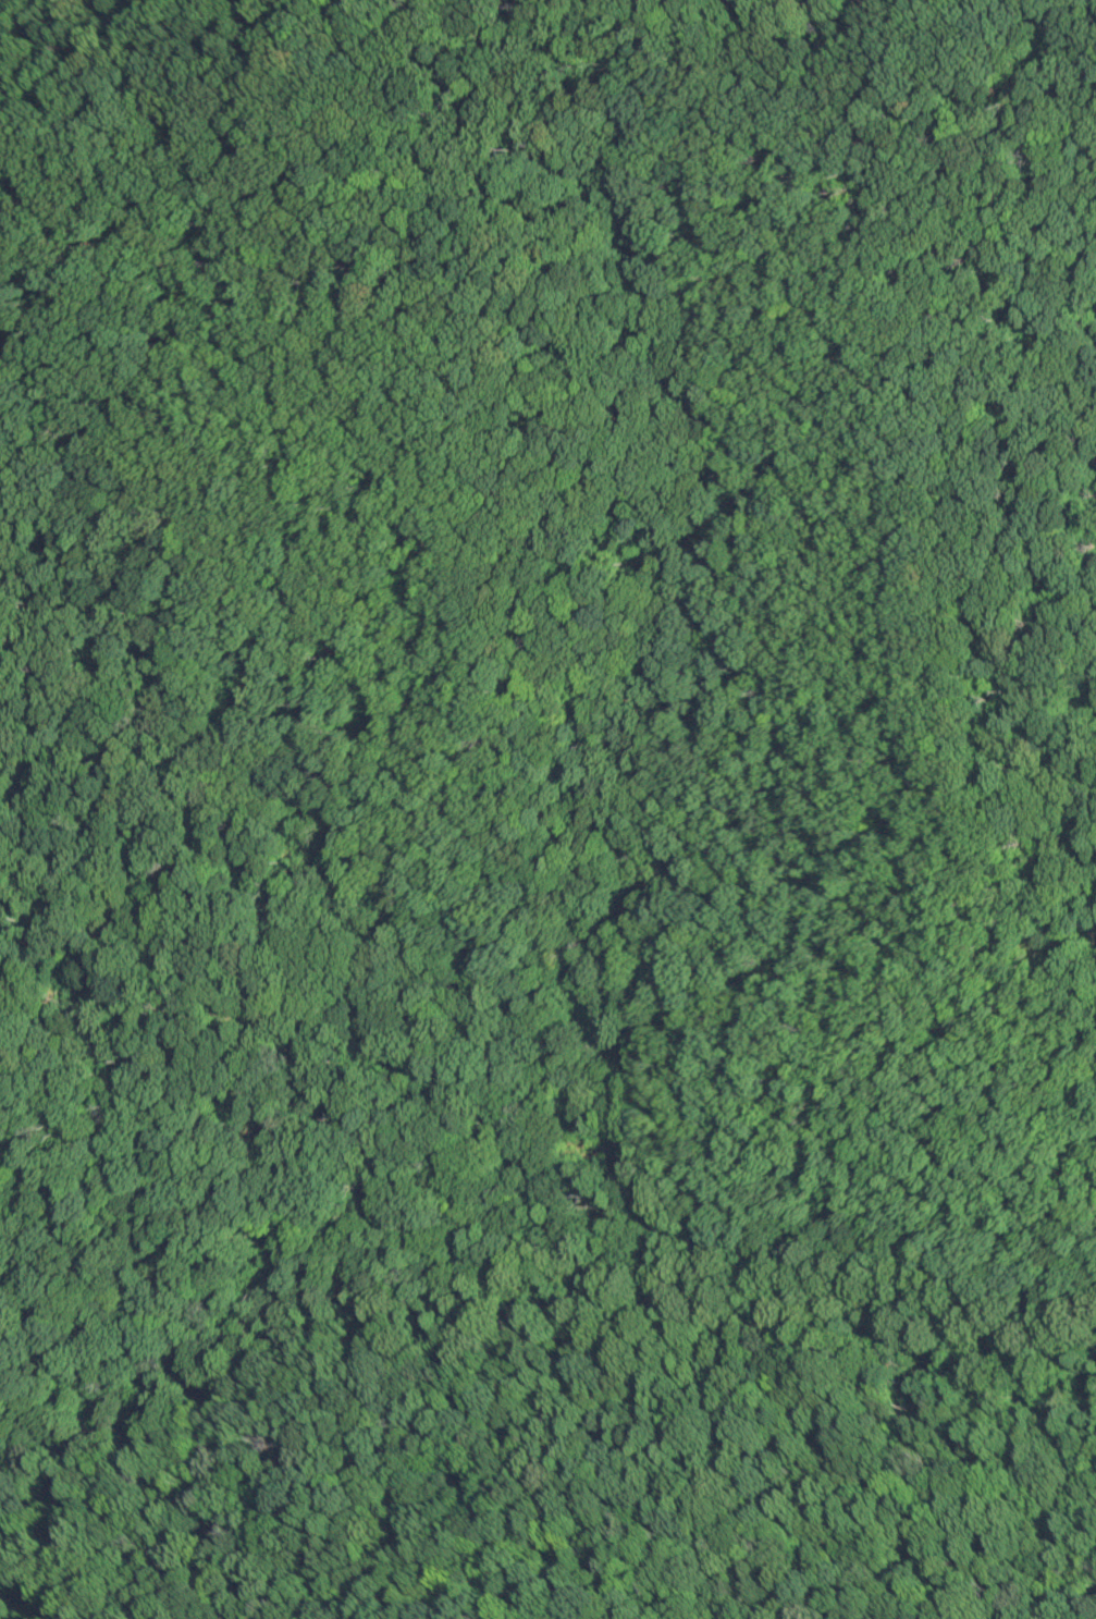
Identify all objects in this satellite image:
road: (509, 1276)

